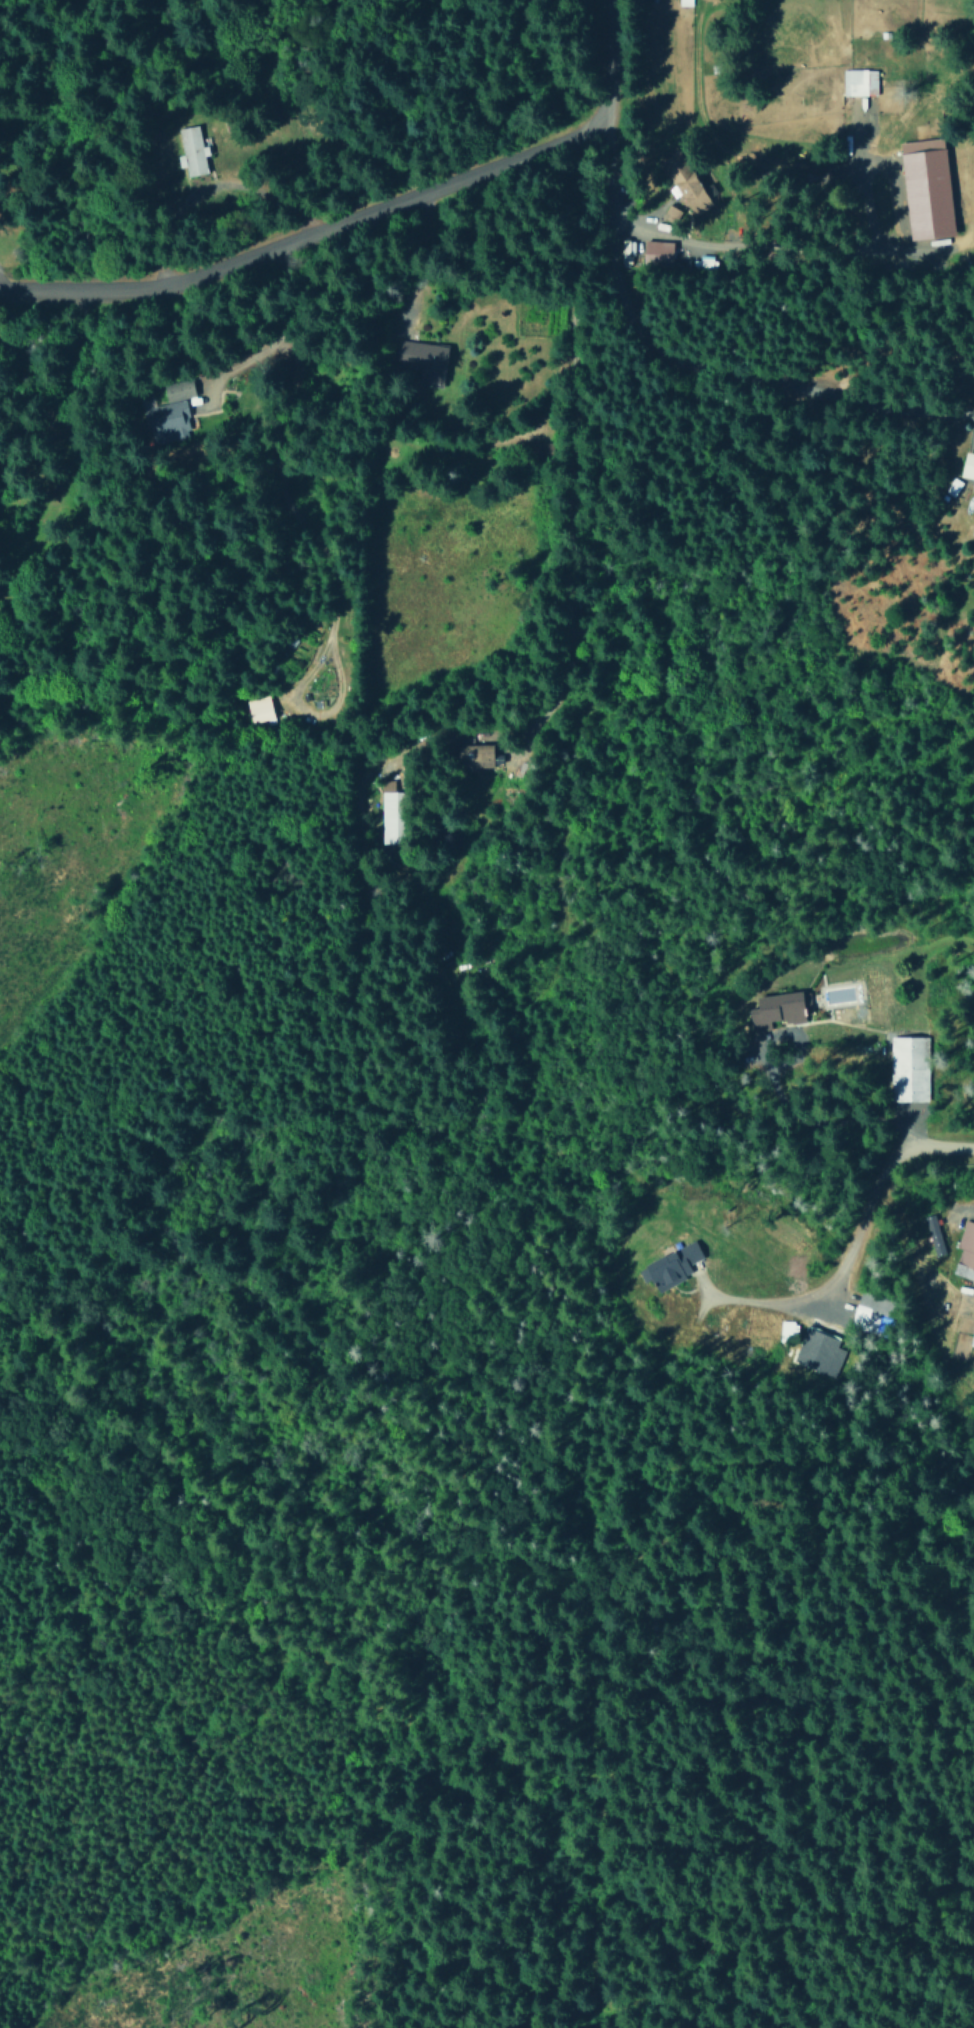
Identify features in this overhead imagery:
building: (859, 82)
building: (191, 151)
building: (685, 183)
building: (927, 189)
building: (671, 213)
road: (373, 216)
building: (626, 253)
building: (657, 253)
building: (423, 359)
building: (178, 390)
building: (167, 422)
building: (968, 465)
road: (566, 636)
building: (259, 710)
building: (391, 814)
building: (777, 1010)
building: (909, 1068)
road: (779, 1075)
building: (931, 1233)
building: (966, 1244)
road: (845, 1255)
building: (670, 1266)
road: (375, 1282)
building: (786, 1329)
building: (973, 1344)
building: (819, 1352)
road: (229, 1353)

